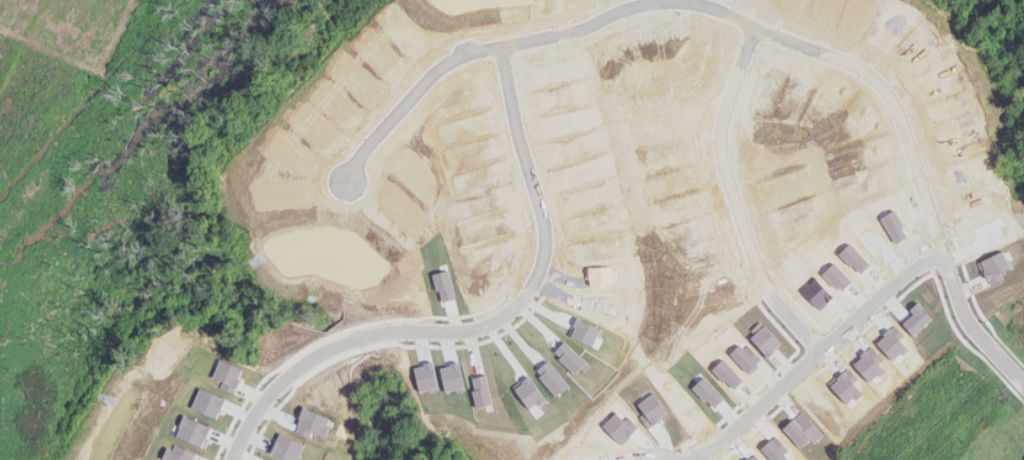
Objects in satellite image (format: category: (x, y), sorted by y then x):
road: (538, 43)
road: (418, 91)
road: (738, 202)
building: (569, 356)
road: (808, 364)
road: (1003, 370)
building: (559, 385)

